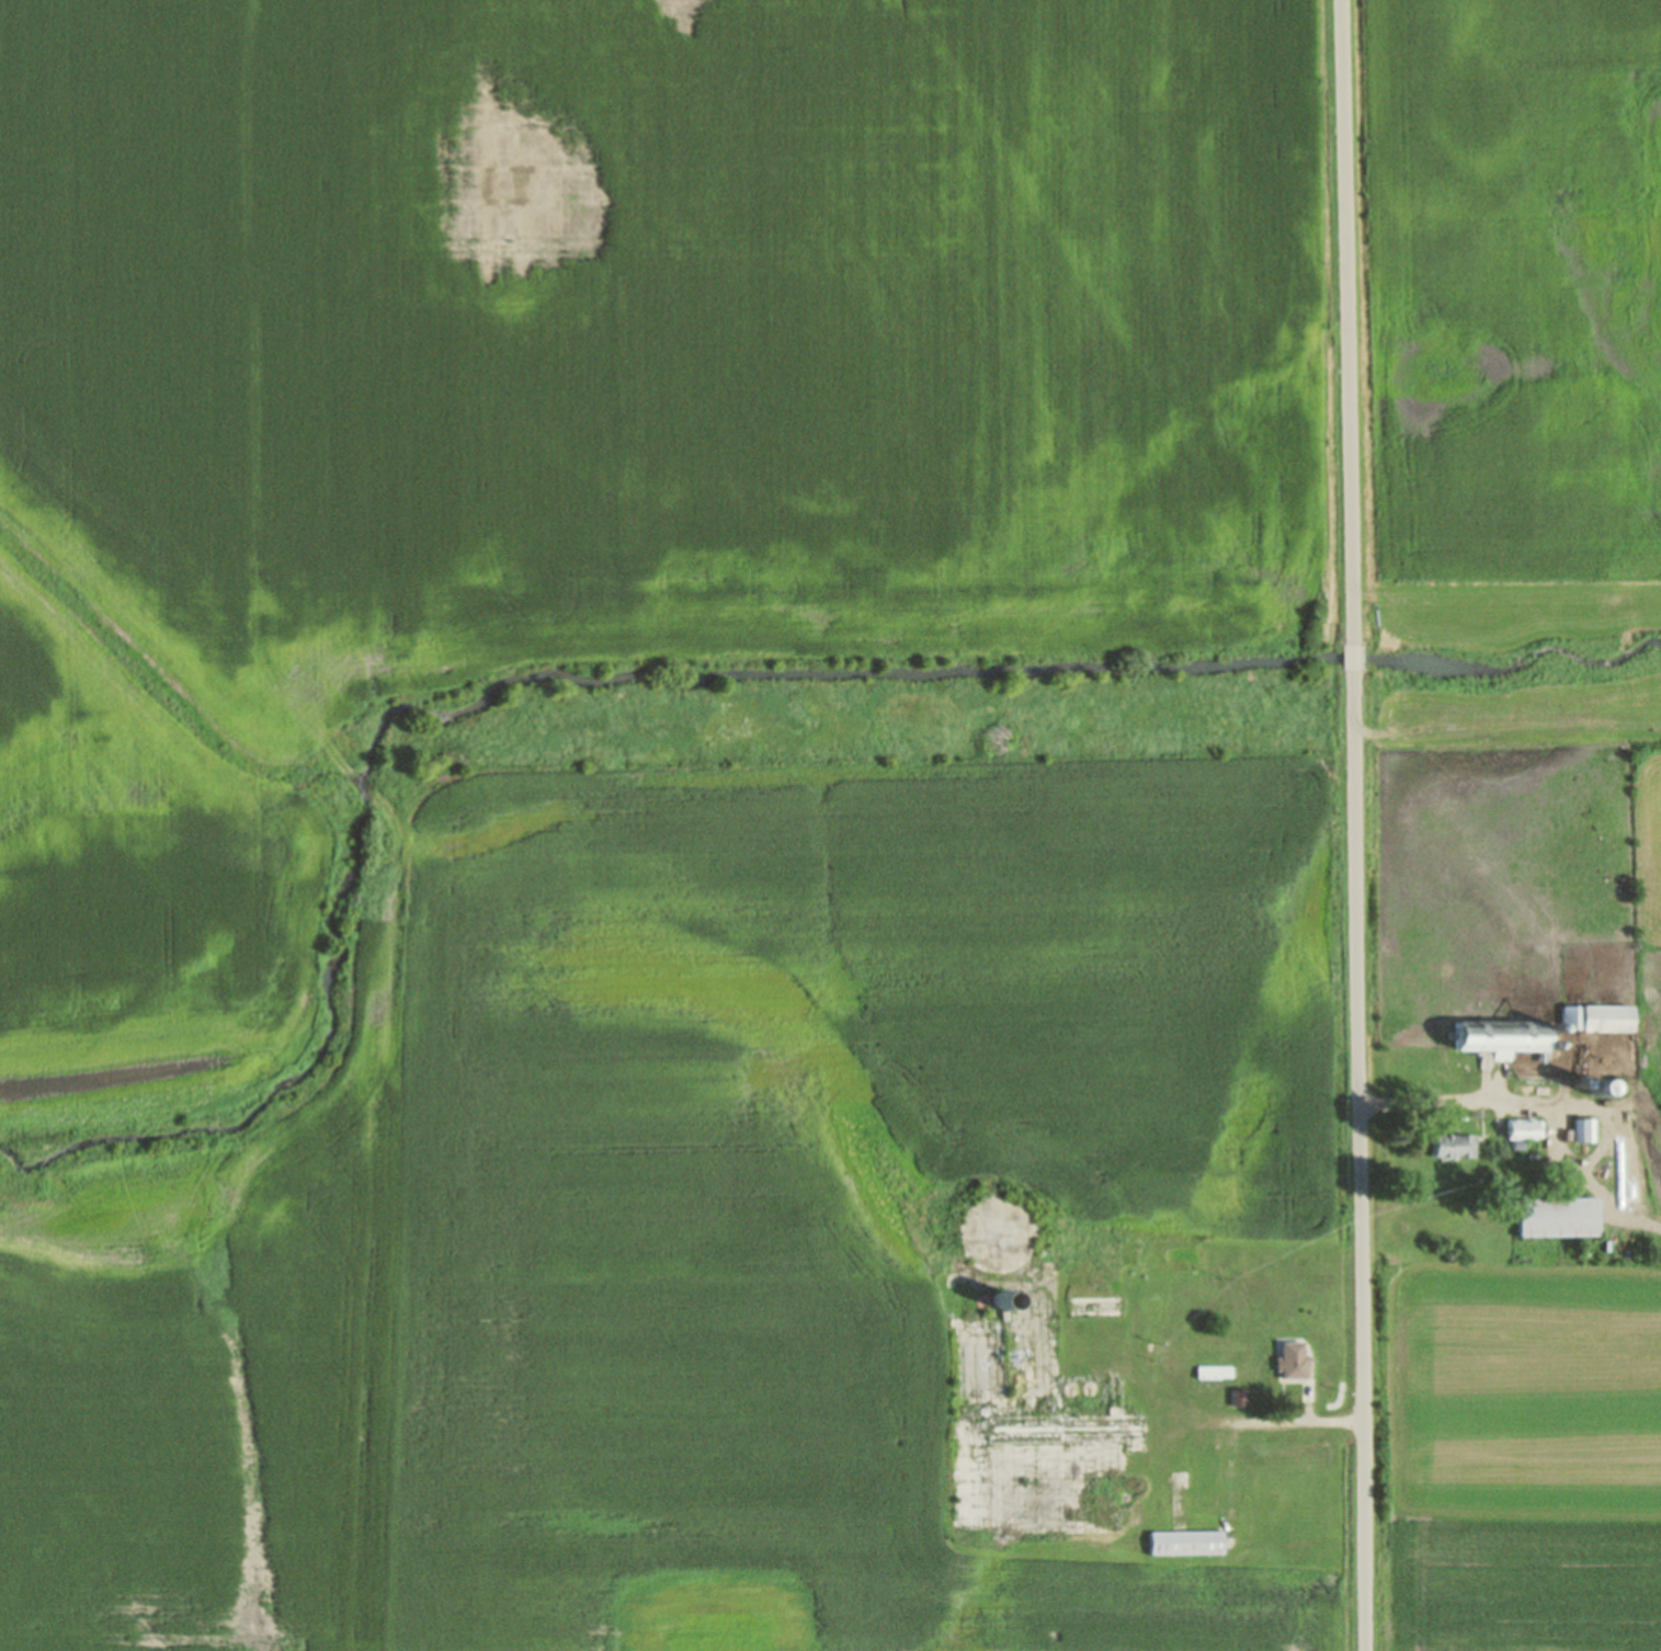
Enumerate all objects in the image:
road: (1355, 824)
building: (1597, 1017)
building: (1501, 1037)
road: (1486, 1100)
building: (1521, 1128)
building: (1584, 1129)
building: (1452, 1145)
road: (1583, 1185)
building: (1556, 1217)
building: (1001, 1241)
building: (1099, 1306)
building: (1290, 1359)
building: (1215, 1370)
building: (1238, 1397)
road: (1261, 1416)
building: (1208, 1472)
building: (969, 1488)
building: (1185, 1542)

